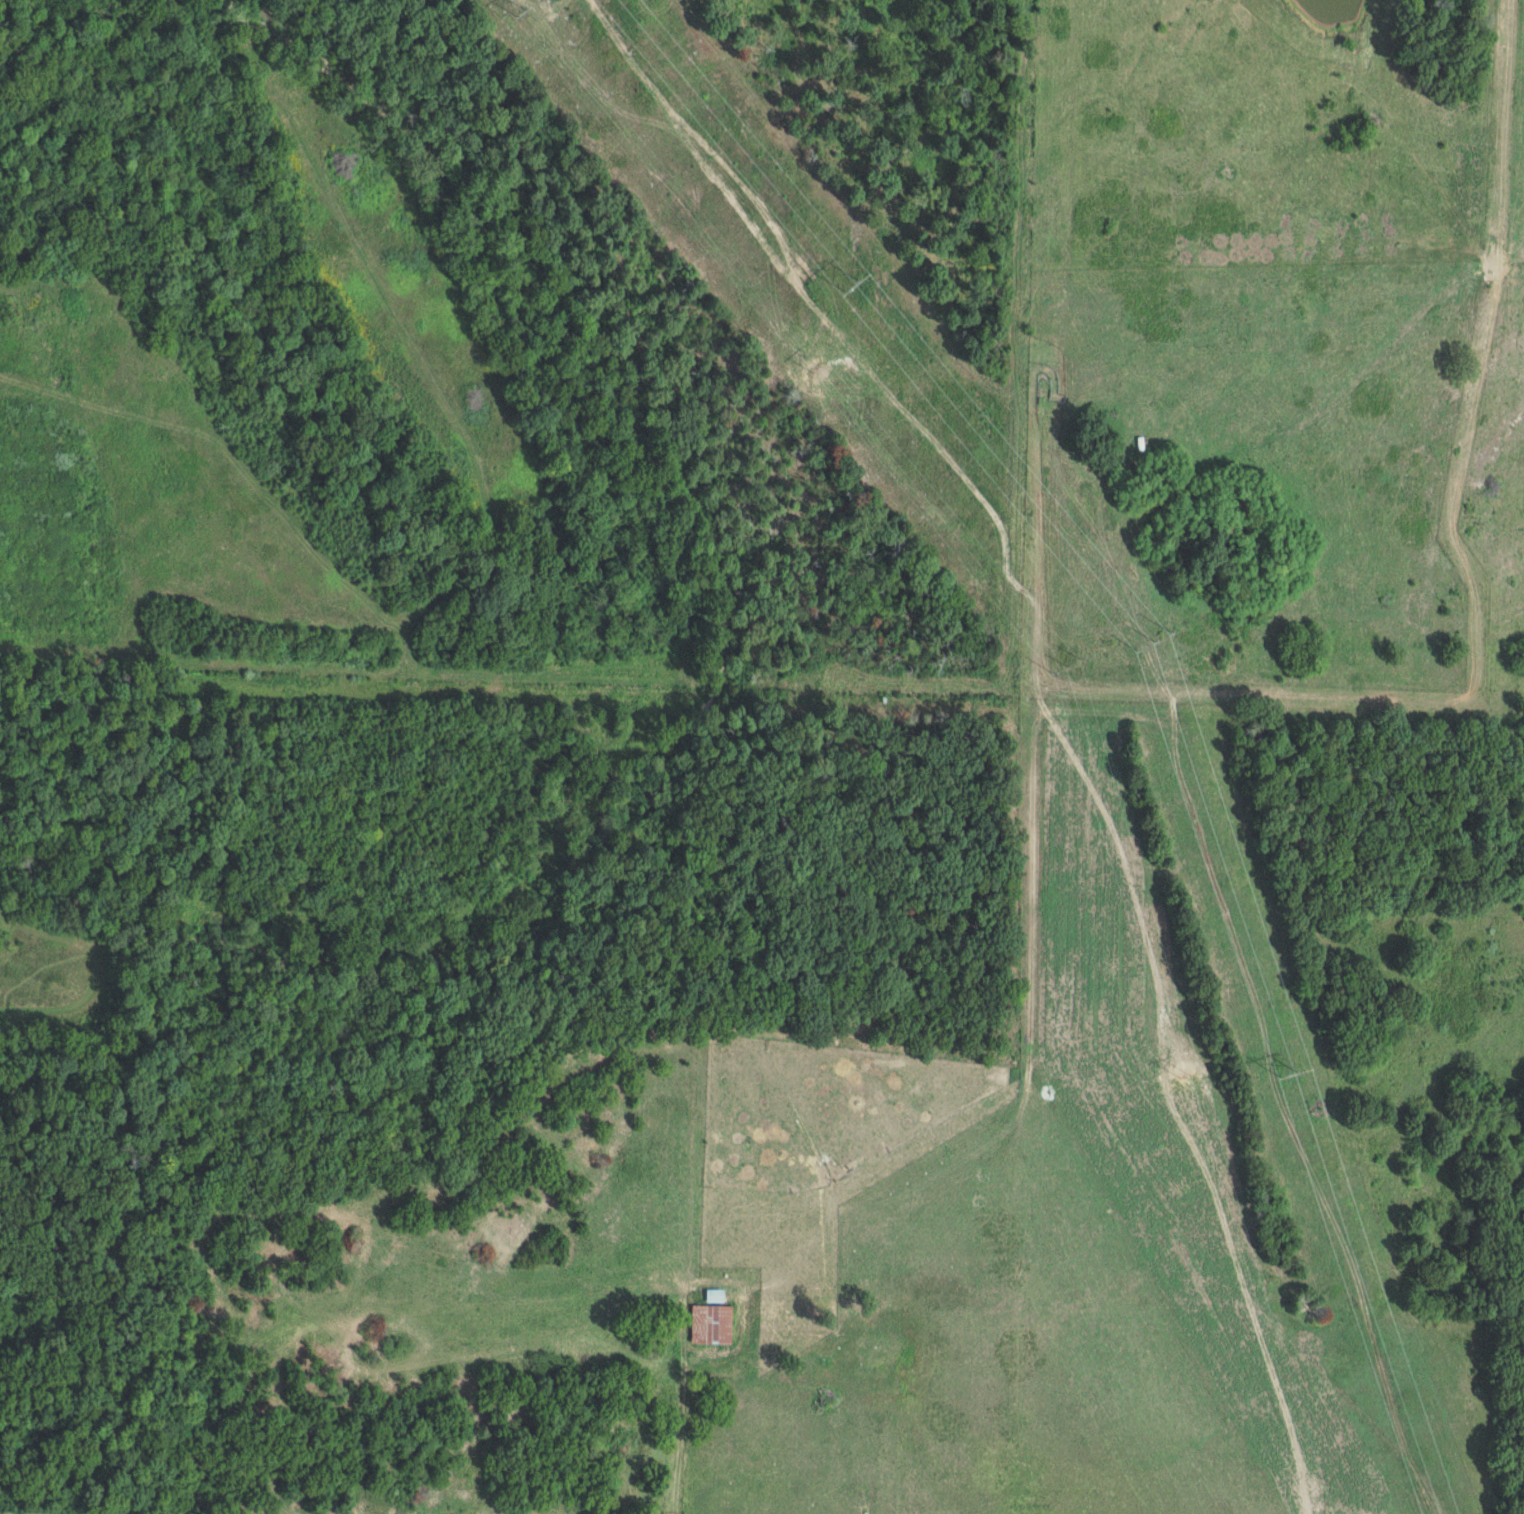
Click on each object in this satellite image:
power tower: (519, 12)
power tower: (850, 286)
power tower: (823, 374)
power tower: (1155, 639)
power tower: (1065, 663)
power tower: (1182, 1072)
power tower: (1286, 1074)
building: (713, 1323)

